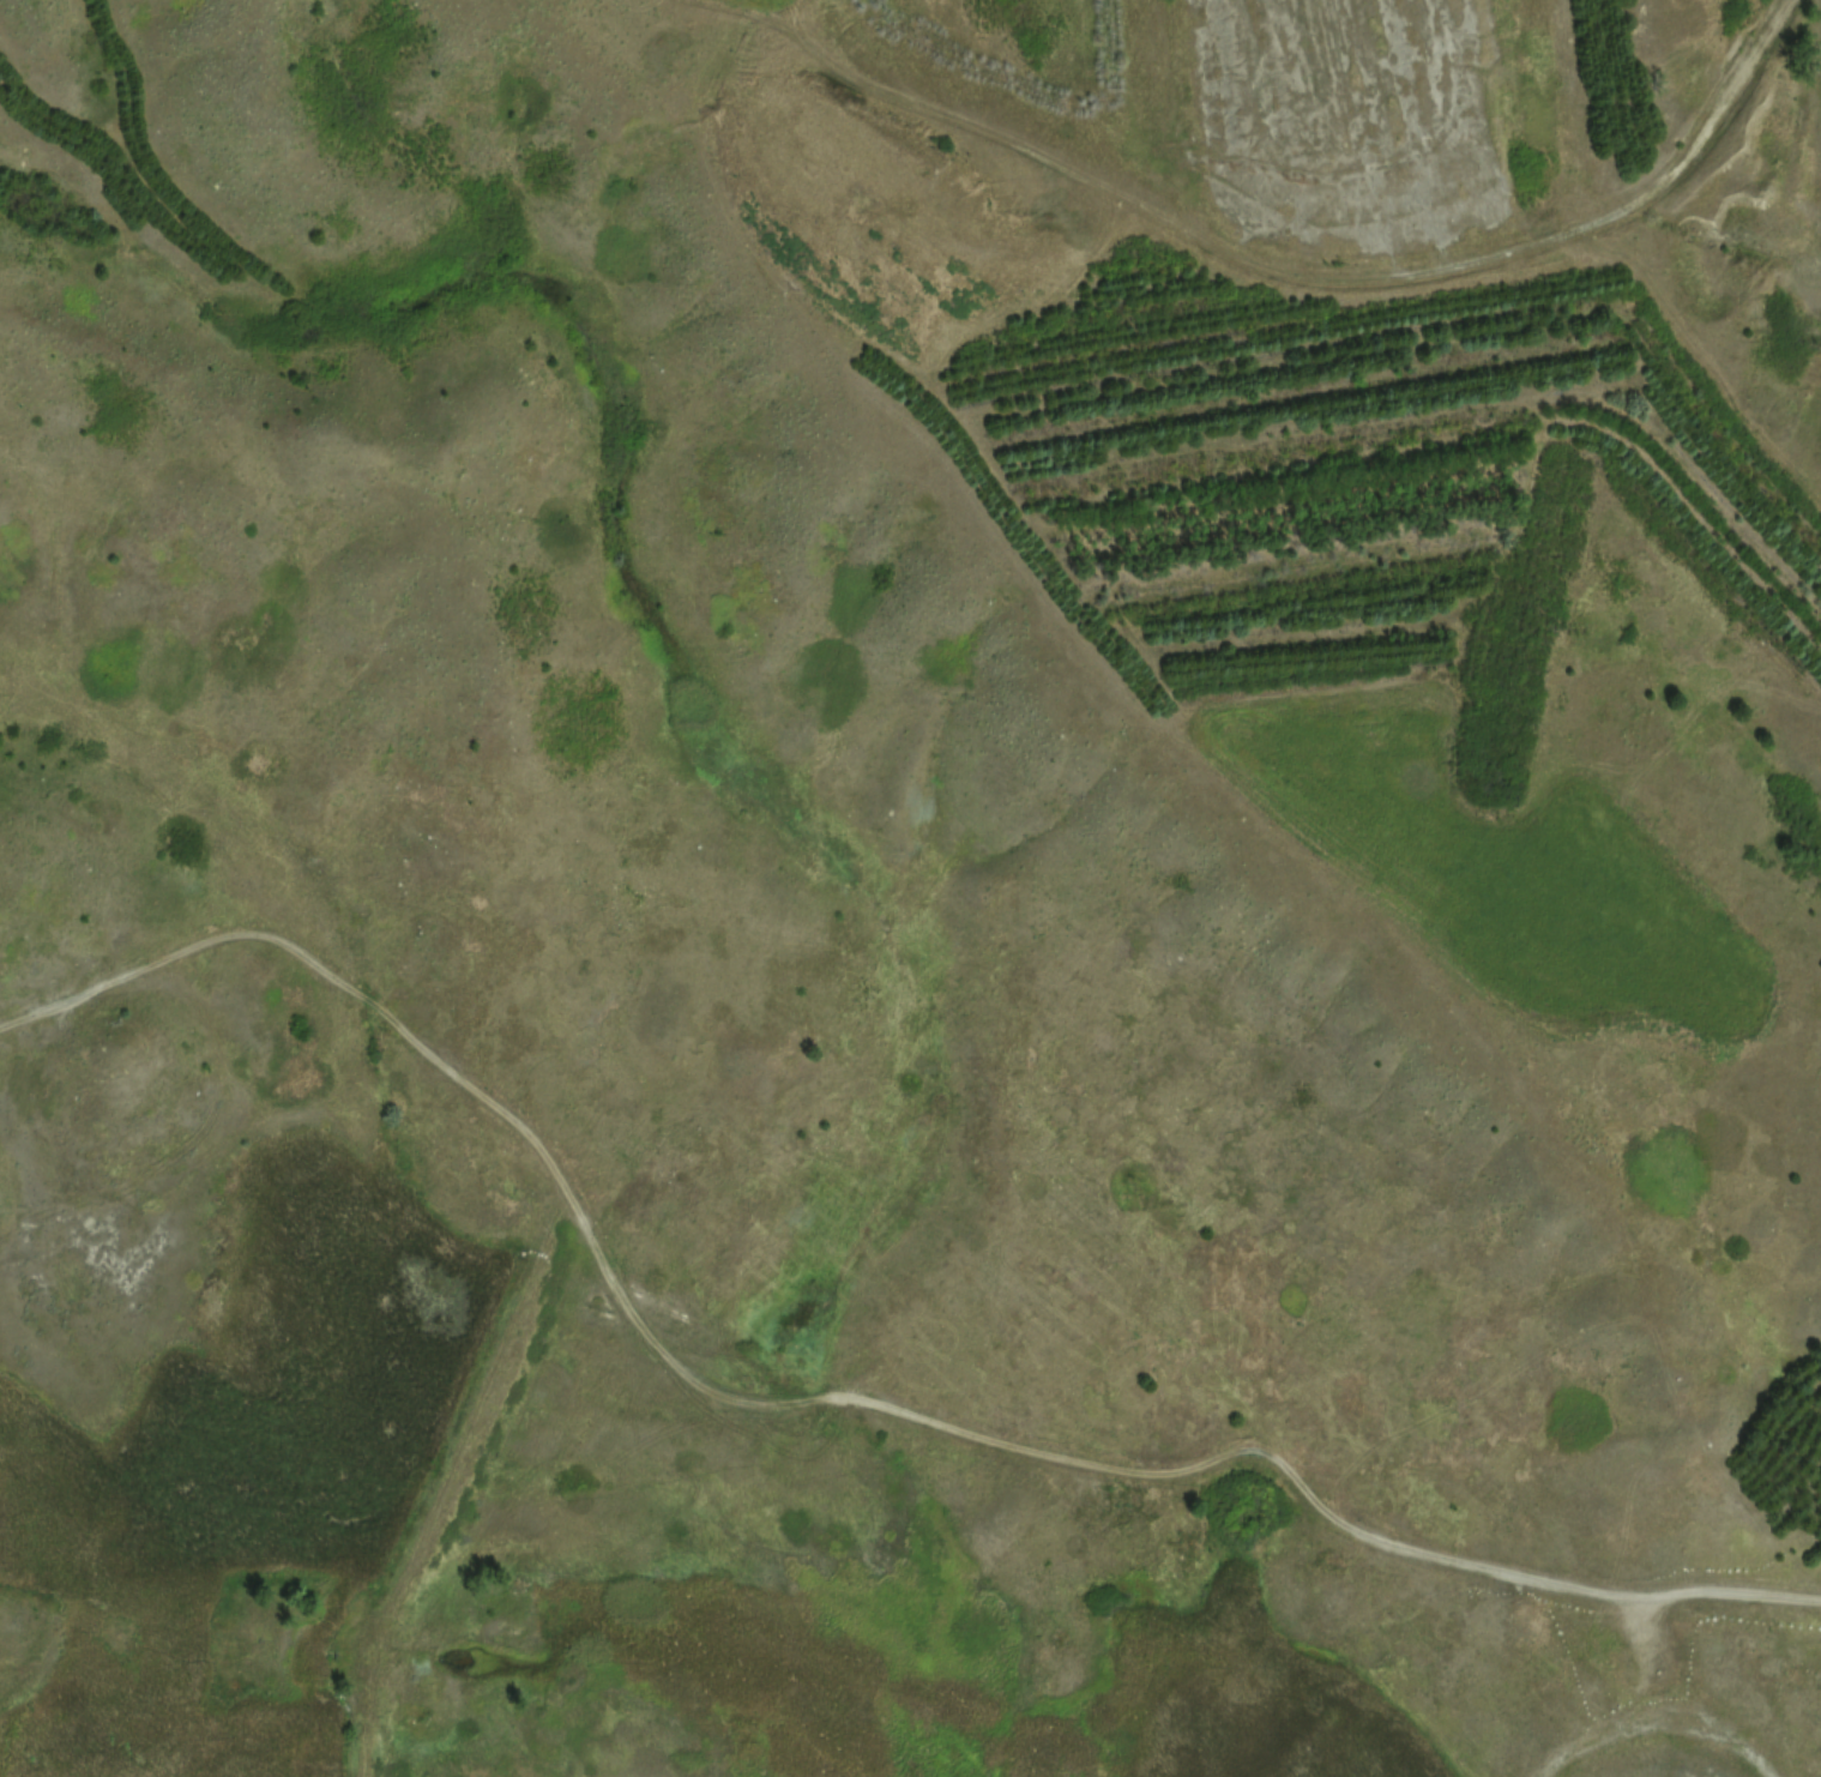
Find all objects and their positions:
road: (1295, 266)

